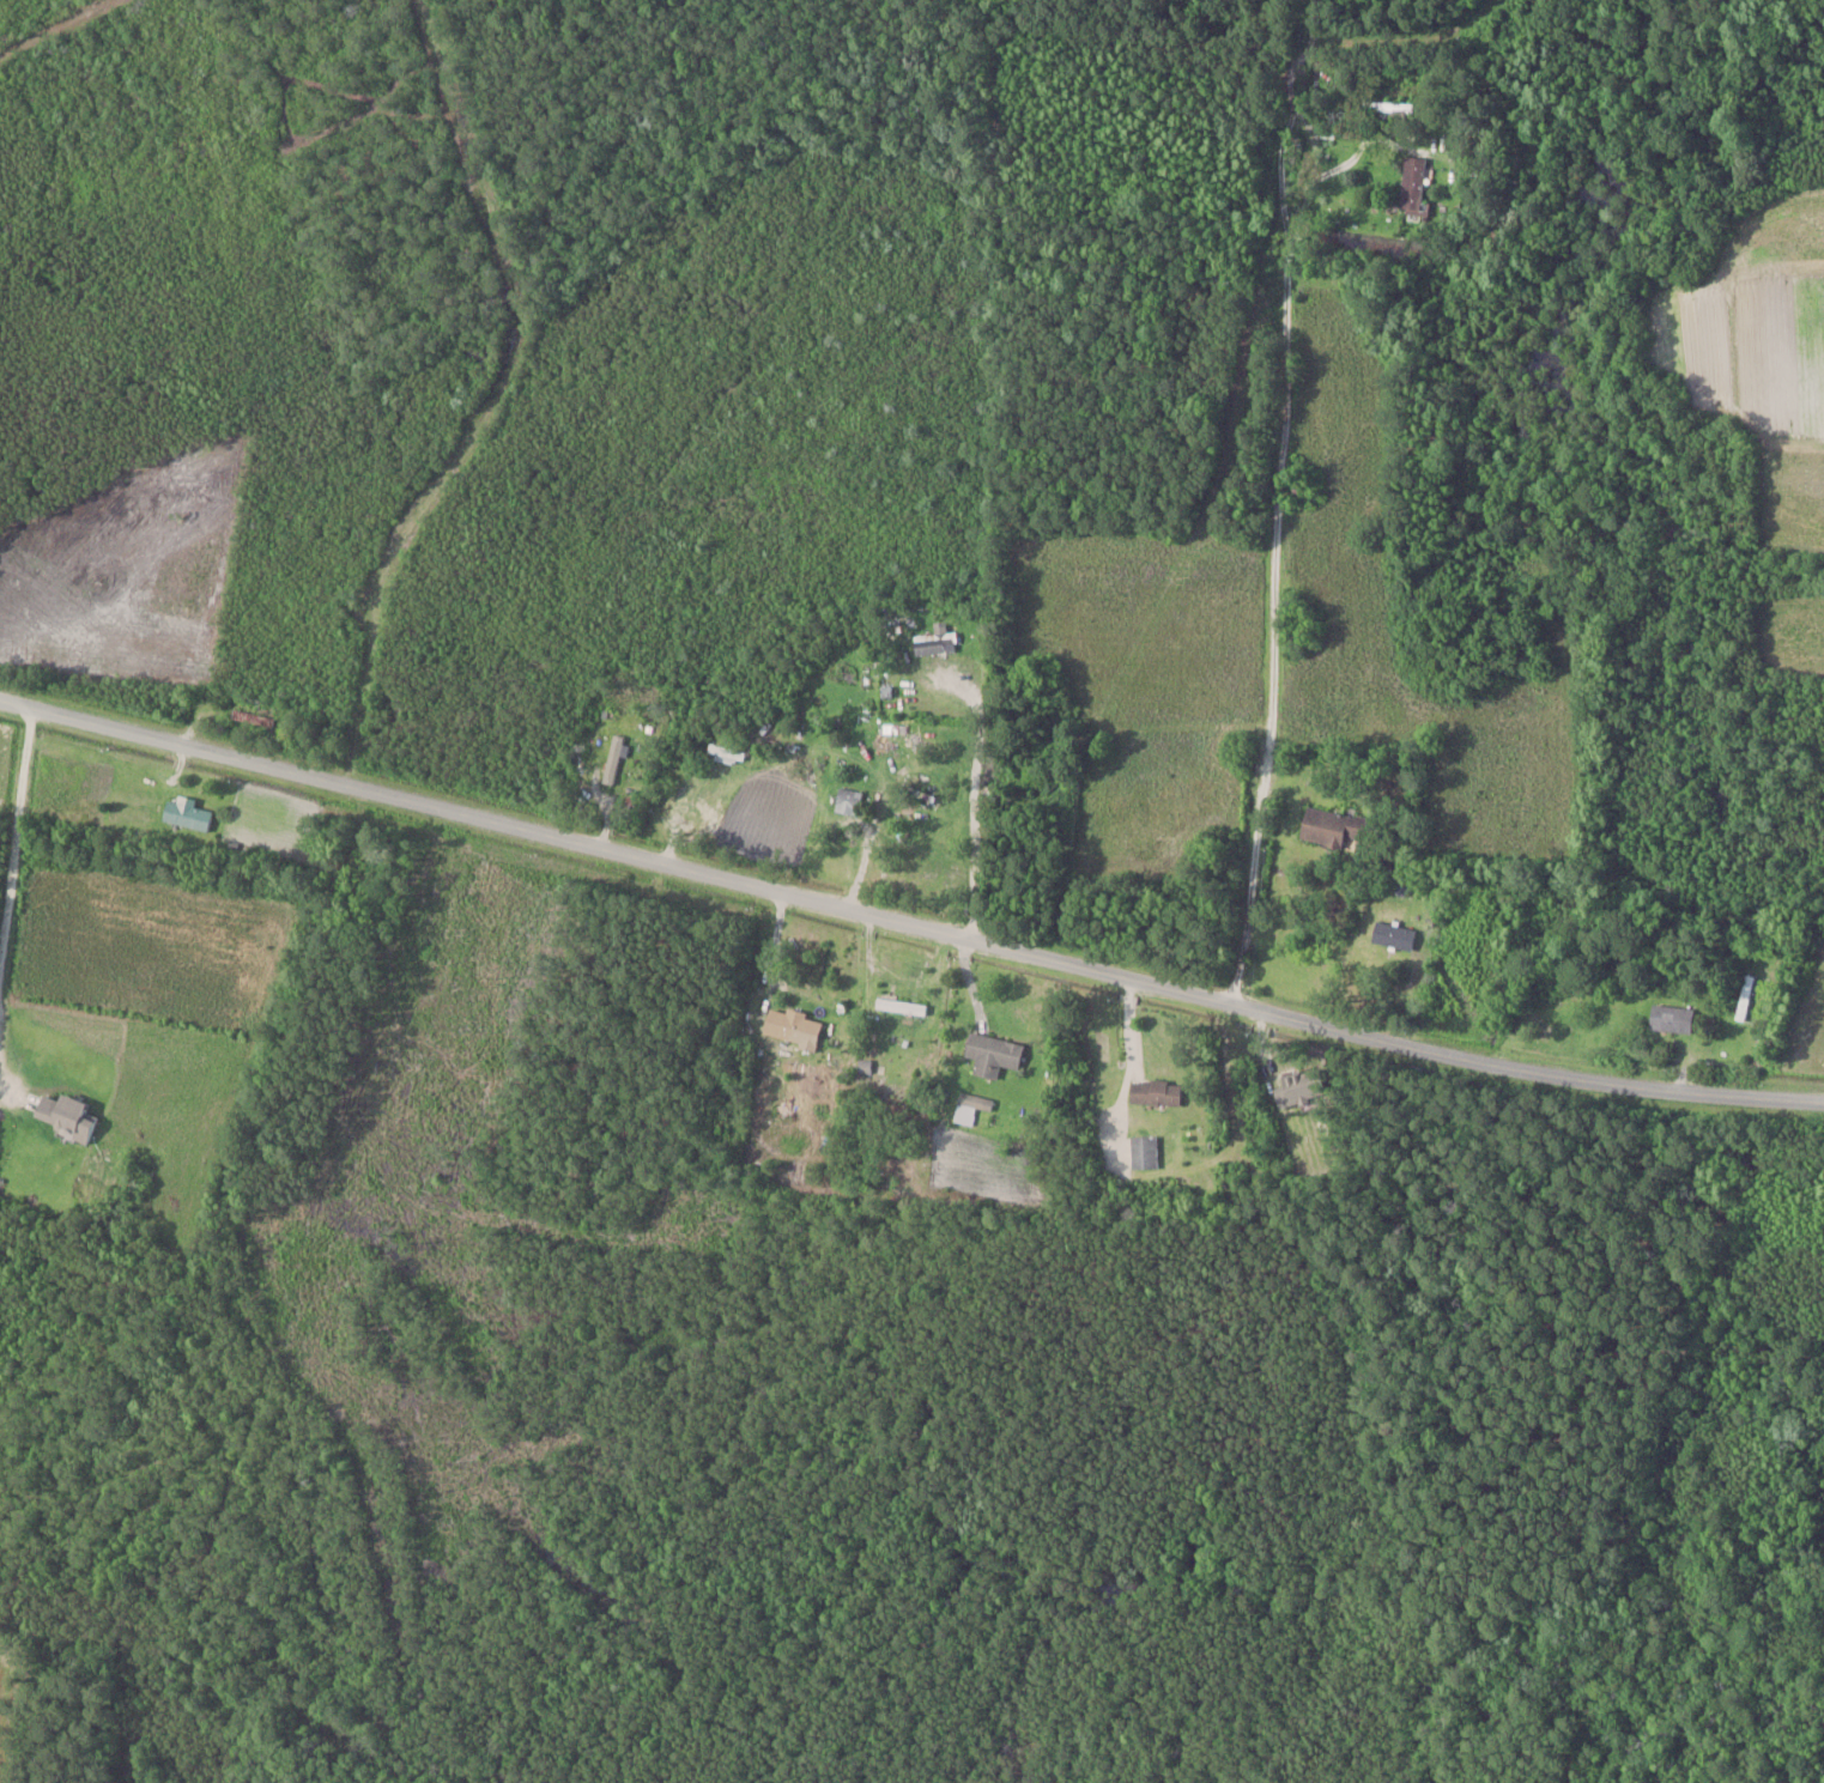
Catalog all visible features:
road: (1293, 142)
road: (1338, 166)
building: (1412, 187)
building: (932, 642)
road: (1285, 647)
building: (248, 715)
building: (614, 758)
road: (975, 796)
building: (848, 800)
building: (187, 814)
building: (1334, 826)
road: (16, 827)
road: (908, 923)
building: (1393, 935)
building: (901, 1005)
building: (1671, 1018)
building: (792, 1026)
building: (992, 1054)
building: (1297, 1087)
road: (10, 1091)
building: (1156, 1092)
building: (970, 1106)
building: (65, 1116)
building: (1144, 1152)

